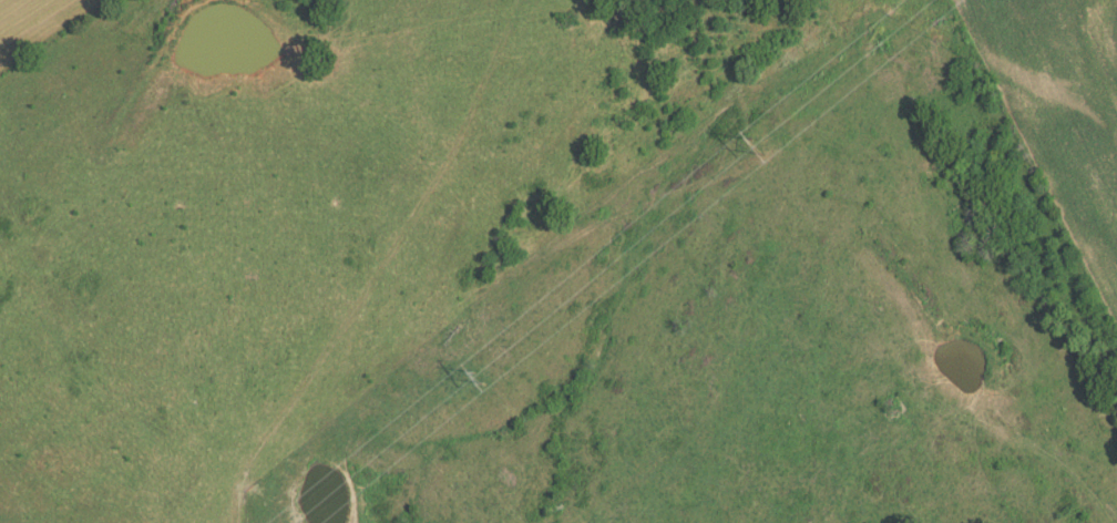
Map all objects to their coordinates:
power tower: (771, 143)
power tower: (480, 378)

